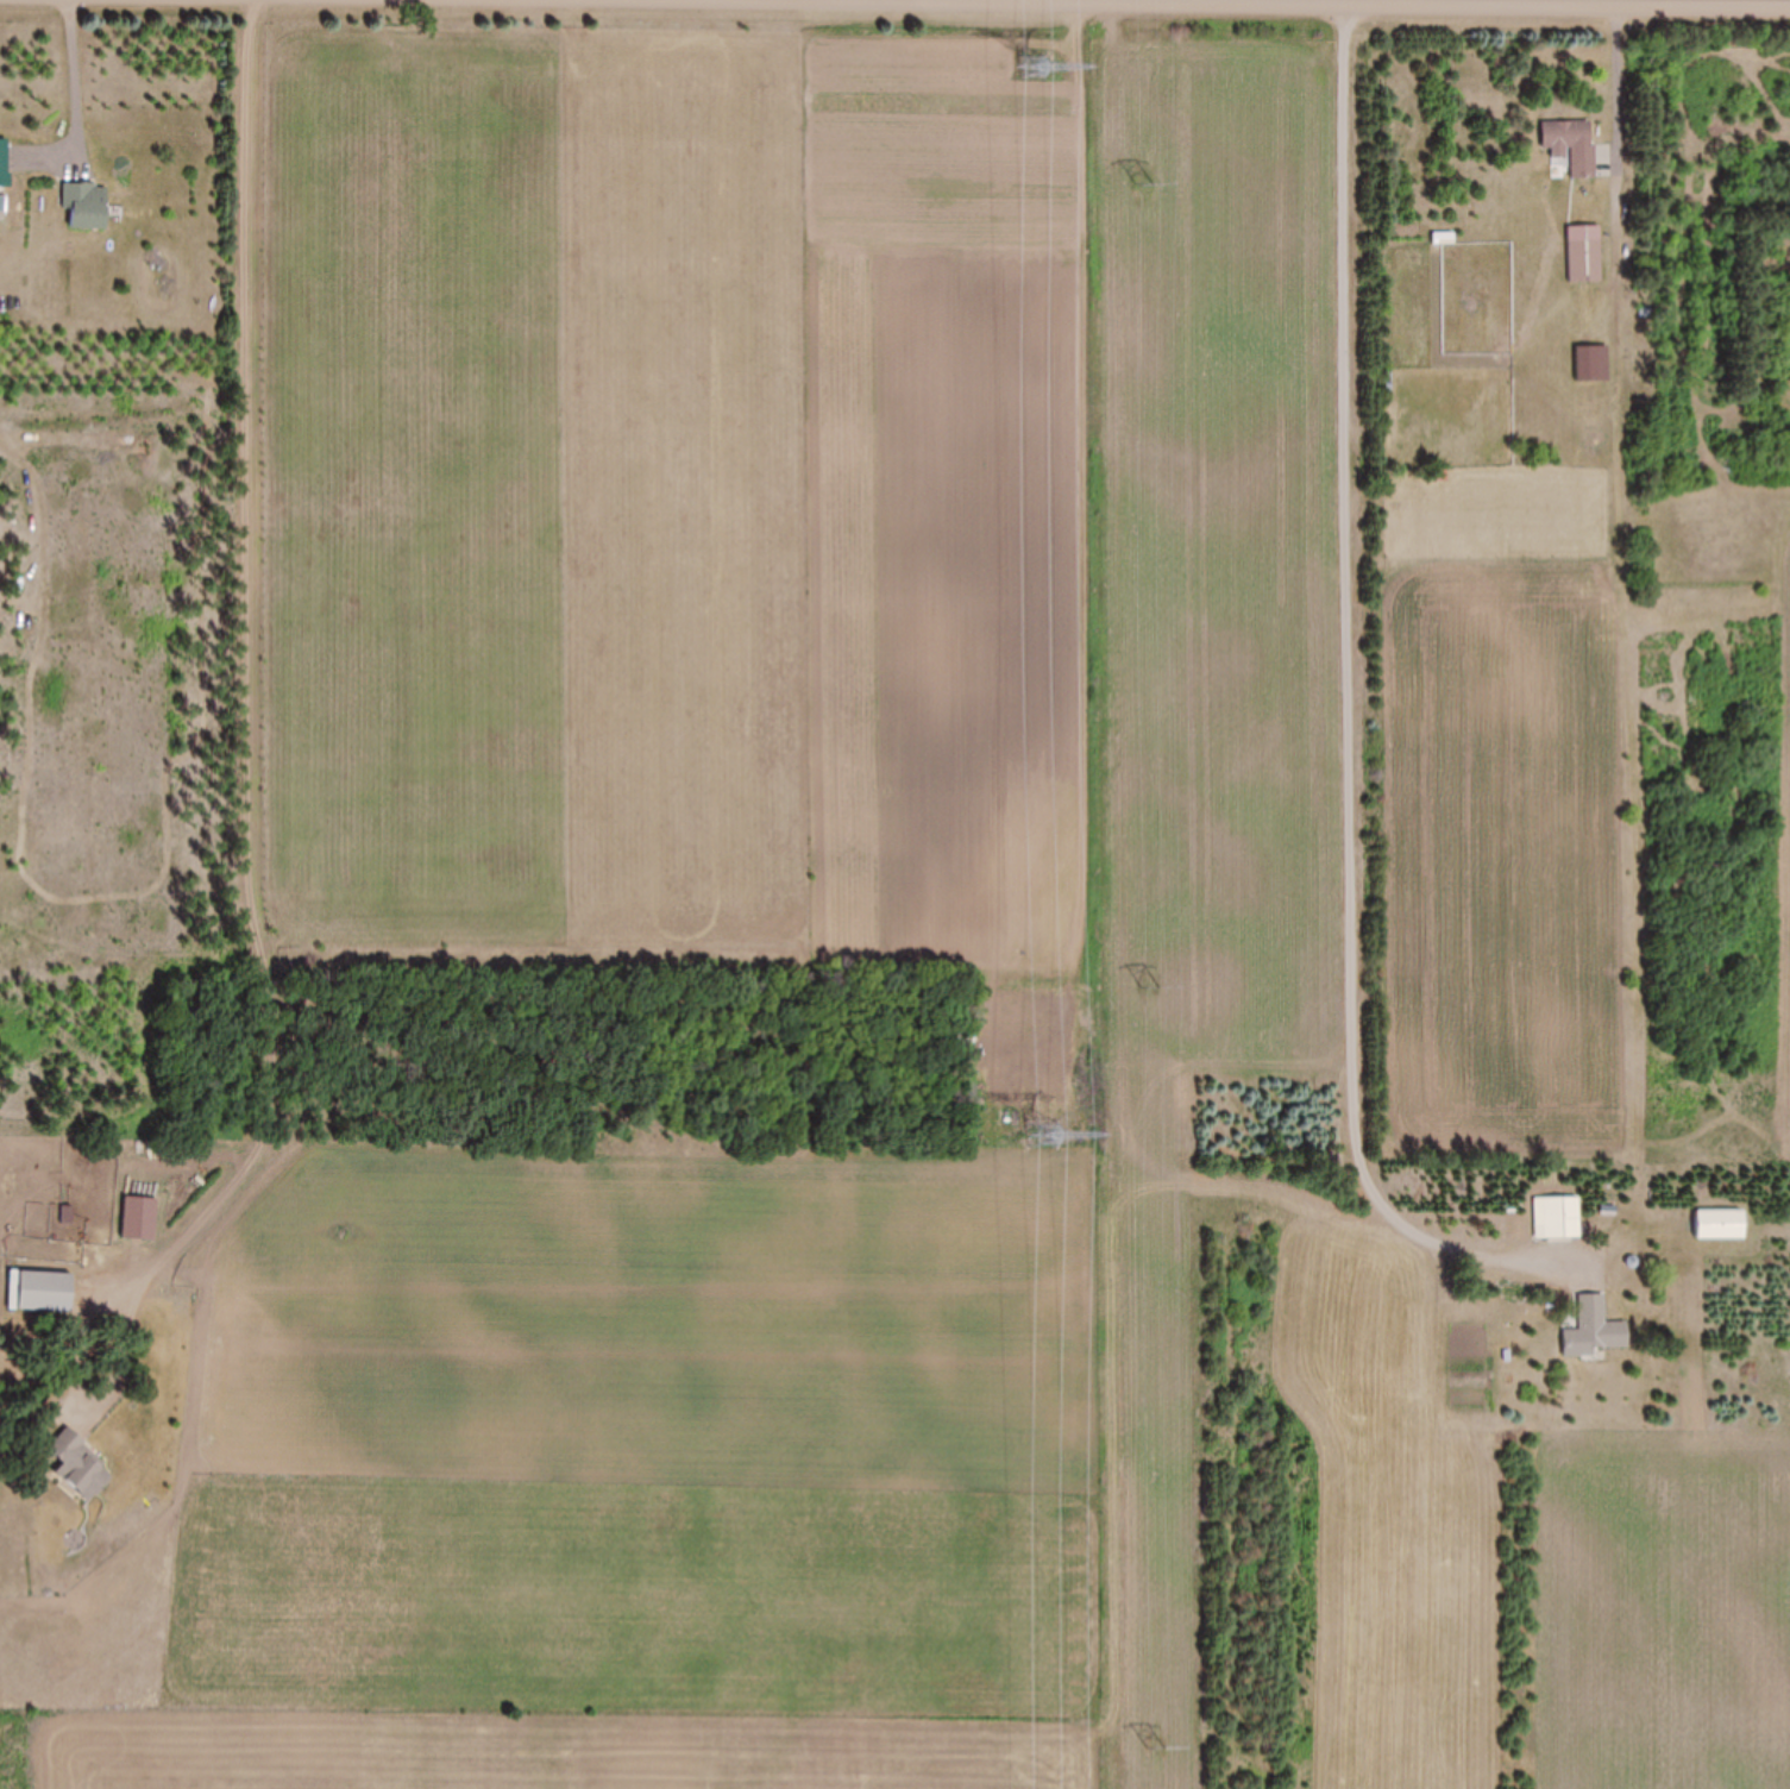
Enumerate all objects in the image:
road: (1342, 4)
power tower: (1031, 65)
building: (1571, 145)
building: (2, 164)
power tower: (1145, 187)
building: (86, 205)
building: (1583, 253)
road: (1257, 457)
road: (1349, 666)
power tower: (1151, 991)
power tower: (1042, 1136)
building: (1559, 1219)
building: (39, 1292)
building: (1599, 1326)
building: (77, 1467)
power tower: (1161, 1745)

